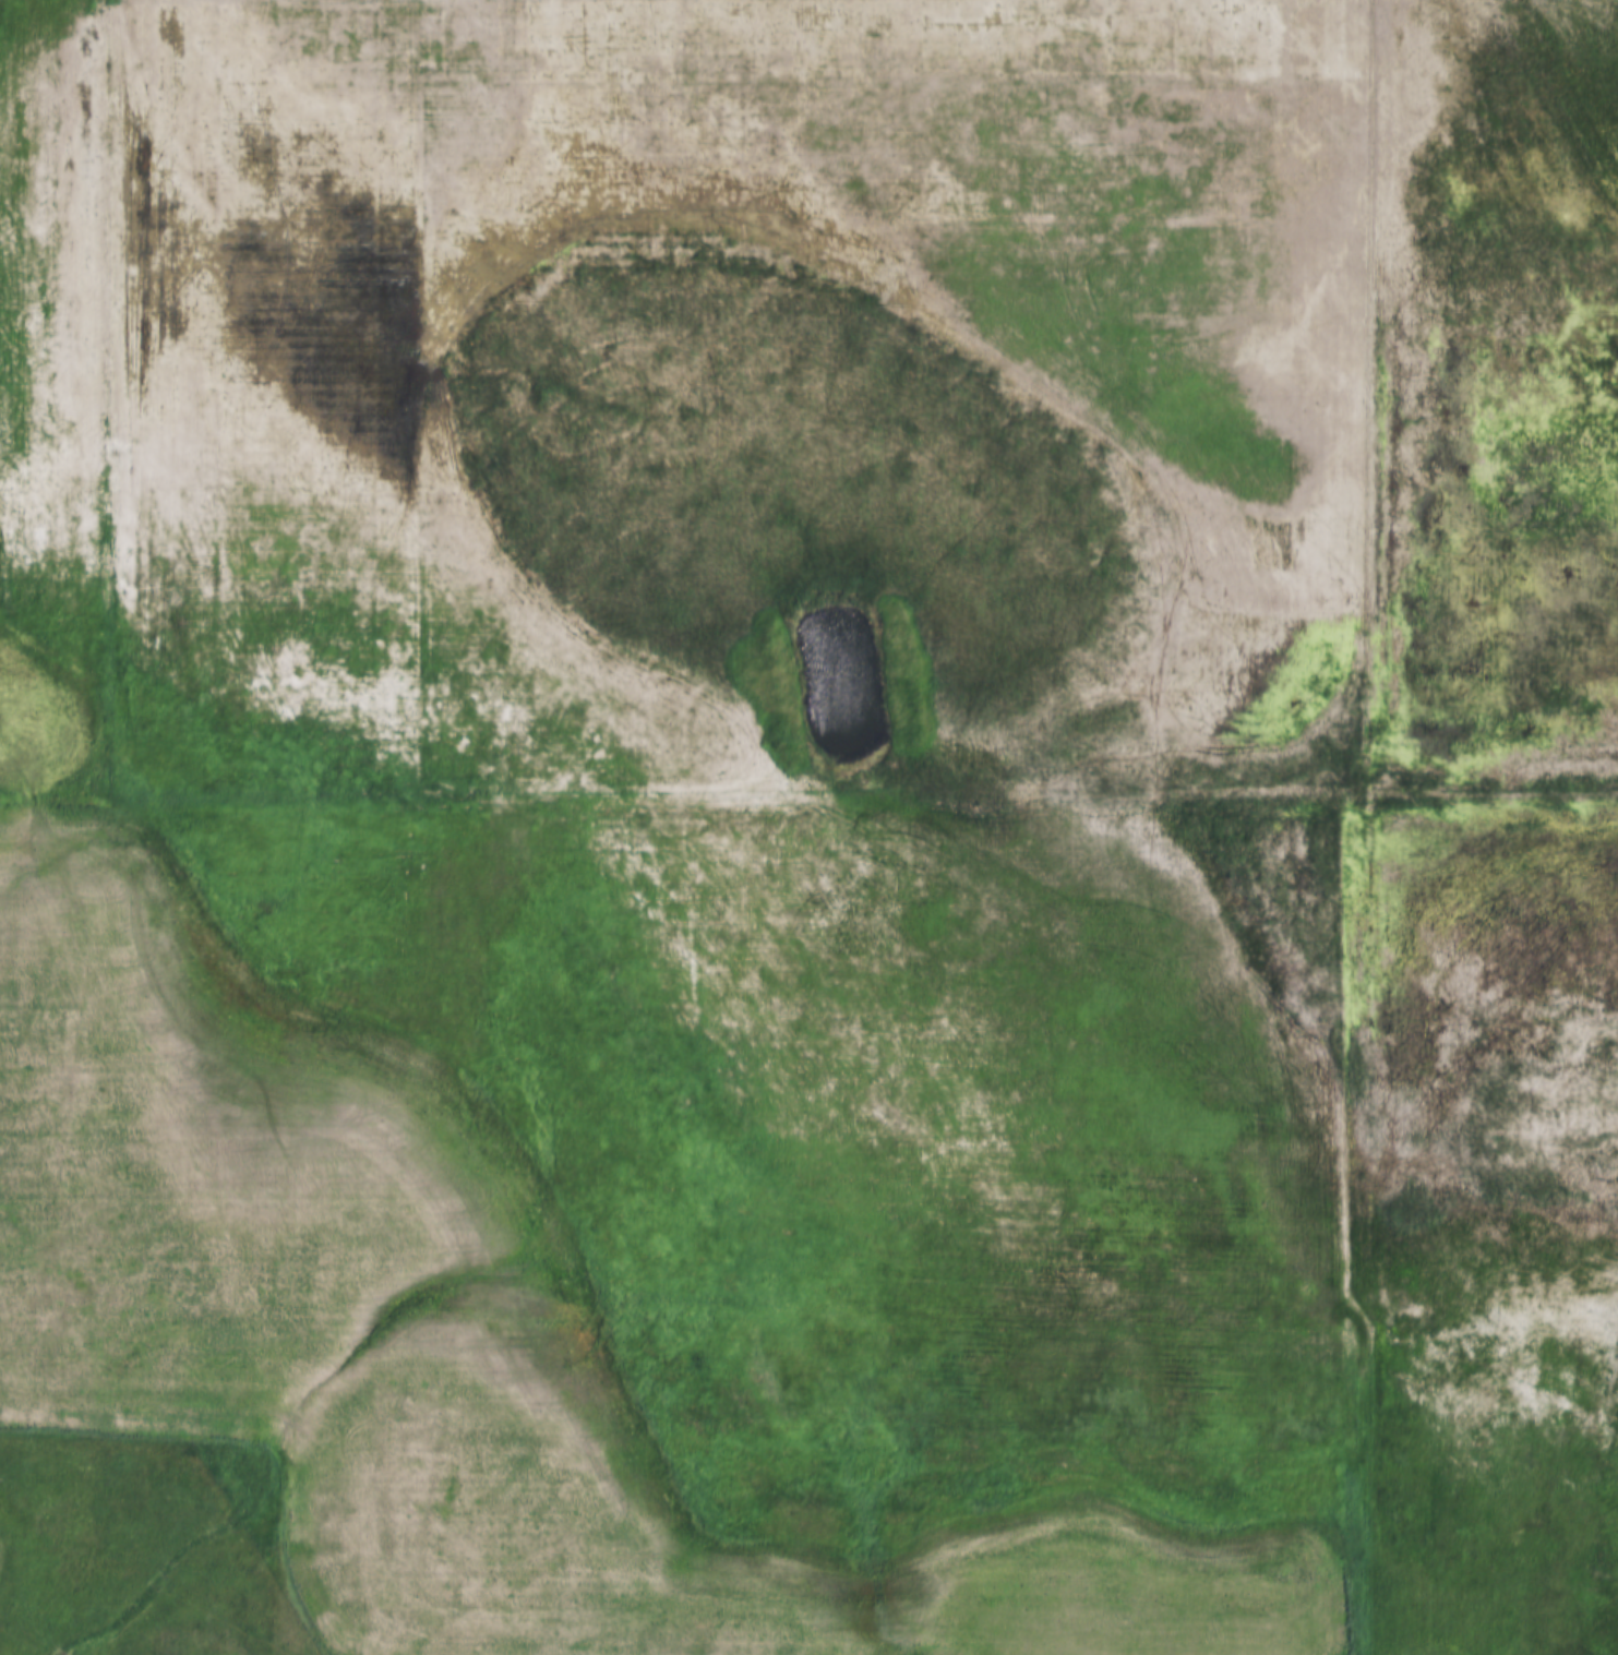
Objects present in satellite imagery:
road: (1366, 1234)

